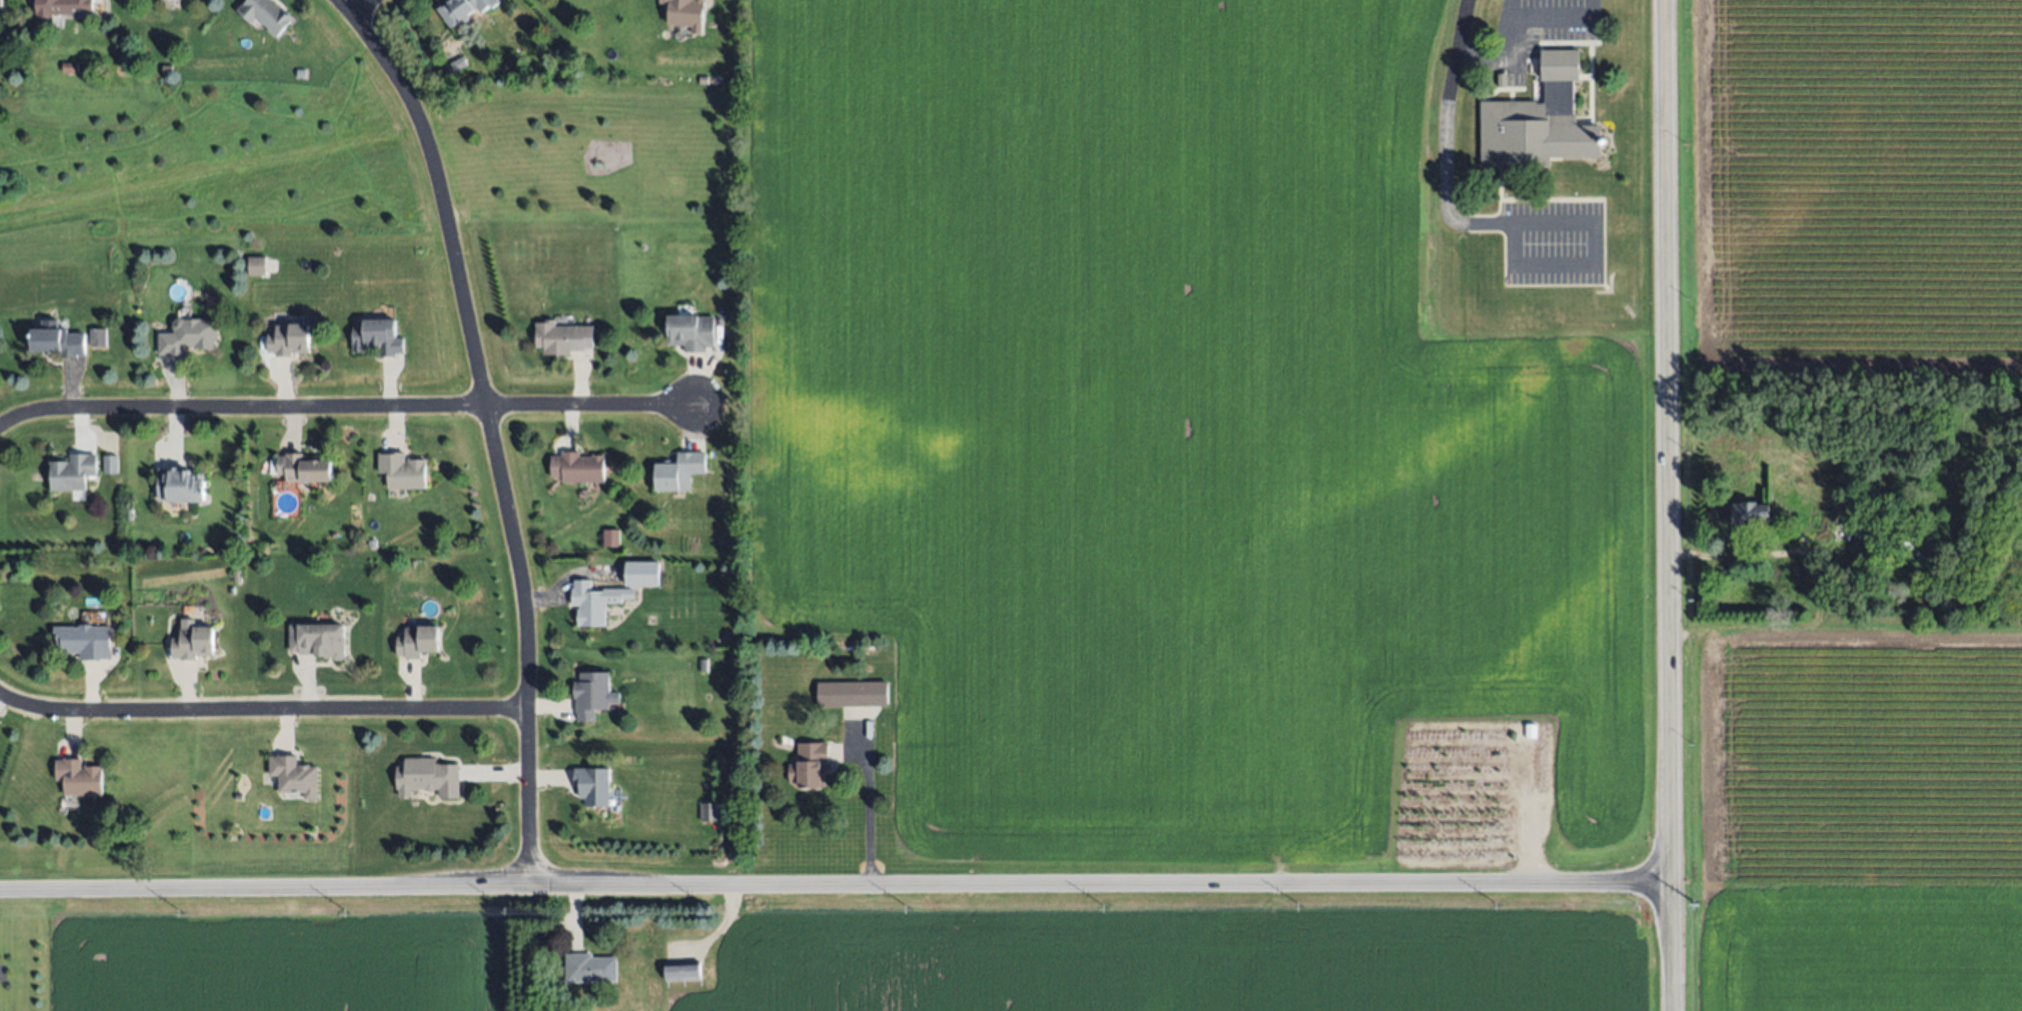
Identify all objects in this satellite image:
building: (0, 3)
building: (63, 7)
road: (345, 8)
road: (363, 8)
building: (464, 9)
road: (1508, 10)
building: (265, 14)
building: (686, 14)
road: (1514, 20)
building: (459, 64)
building: (69, 67)
building: (166, 68)
building: (703, 80)
road: (1447, 104)
building: (1540, 121)
park: (367, 162)
crop: (1856, 188)
road: (1594, 228)
building: (256, 266)
building: (691, 332)
building: (189, 337)
building: (378, 337)
building: (562, 337)
building: (99, 338)
building: (289, 340)
building: (58, 341)
road: (340, 407)
crop: (1158, 426)
road: (496, 438)
building: (110, 464)
building: (581, 465)
building: (305, 467)
building: (403, 471)
building: (679, 471)
building: (73, 472)
building: (181, 485)
road: (1669, 505)
building: (1749, 514)
building: (1887, 532)
building: (611, 539)
building: (641, 574)
building: (237, 576)
building: (232, 590)
building: (595, 602)
building: (318, 640)
building: (85, 641)
building: (192, 641)
building: (417, 641)
building: (703, 665)
building: (852, 694)
building: (593, 695)
road: (263, 711)
building: (809, 765)
building: (294, 776)
building: (79, 777)
building: (426, 777)
building: (593, 785)
road: (869, 809)
building: (708, 813)
crop: (1857, 819)
road: (835, 886)
building: (587, 967)
building: (684, 968)

